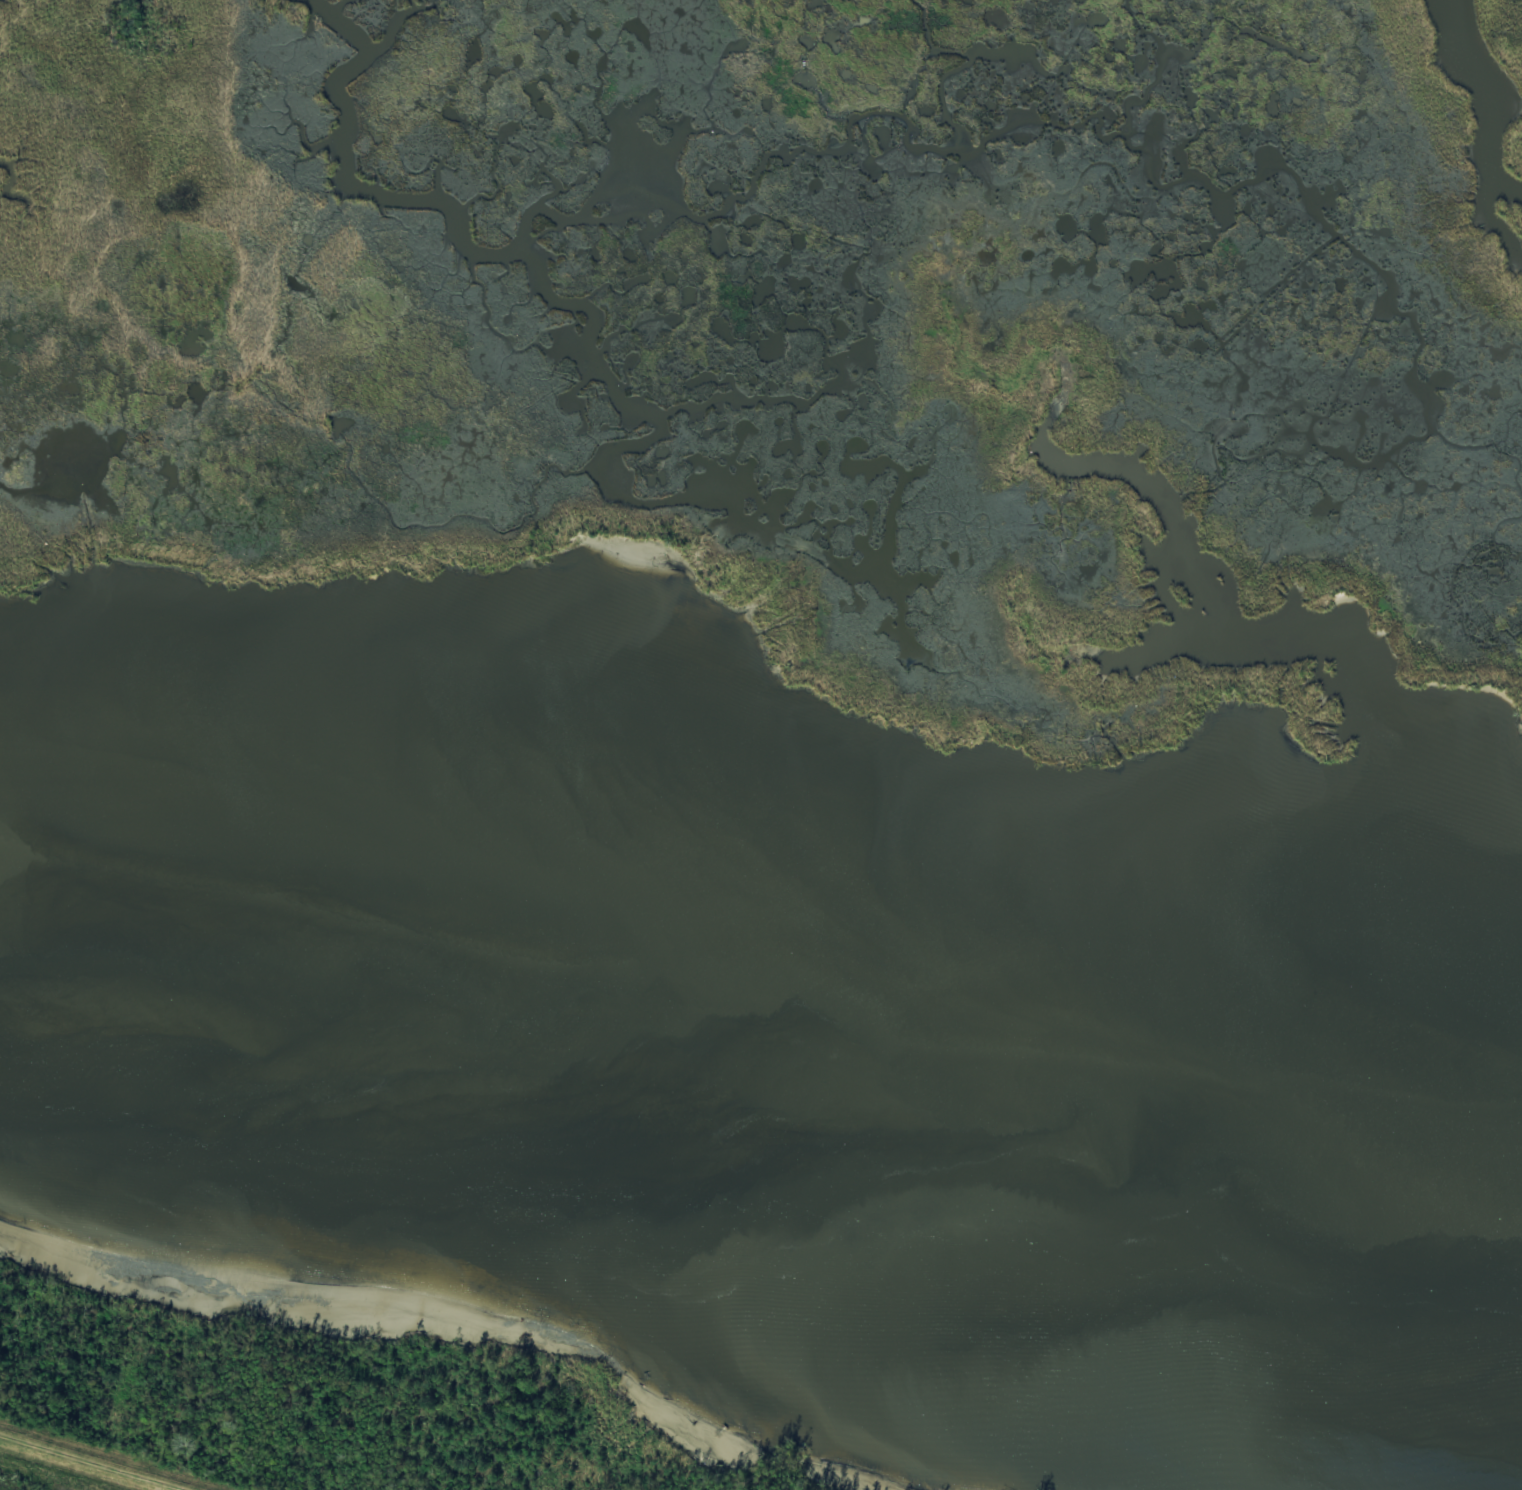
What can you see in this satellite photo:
river: (761, 1042)

